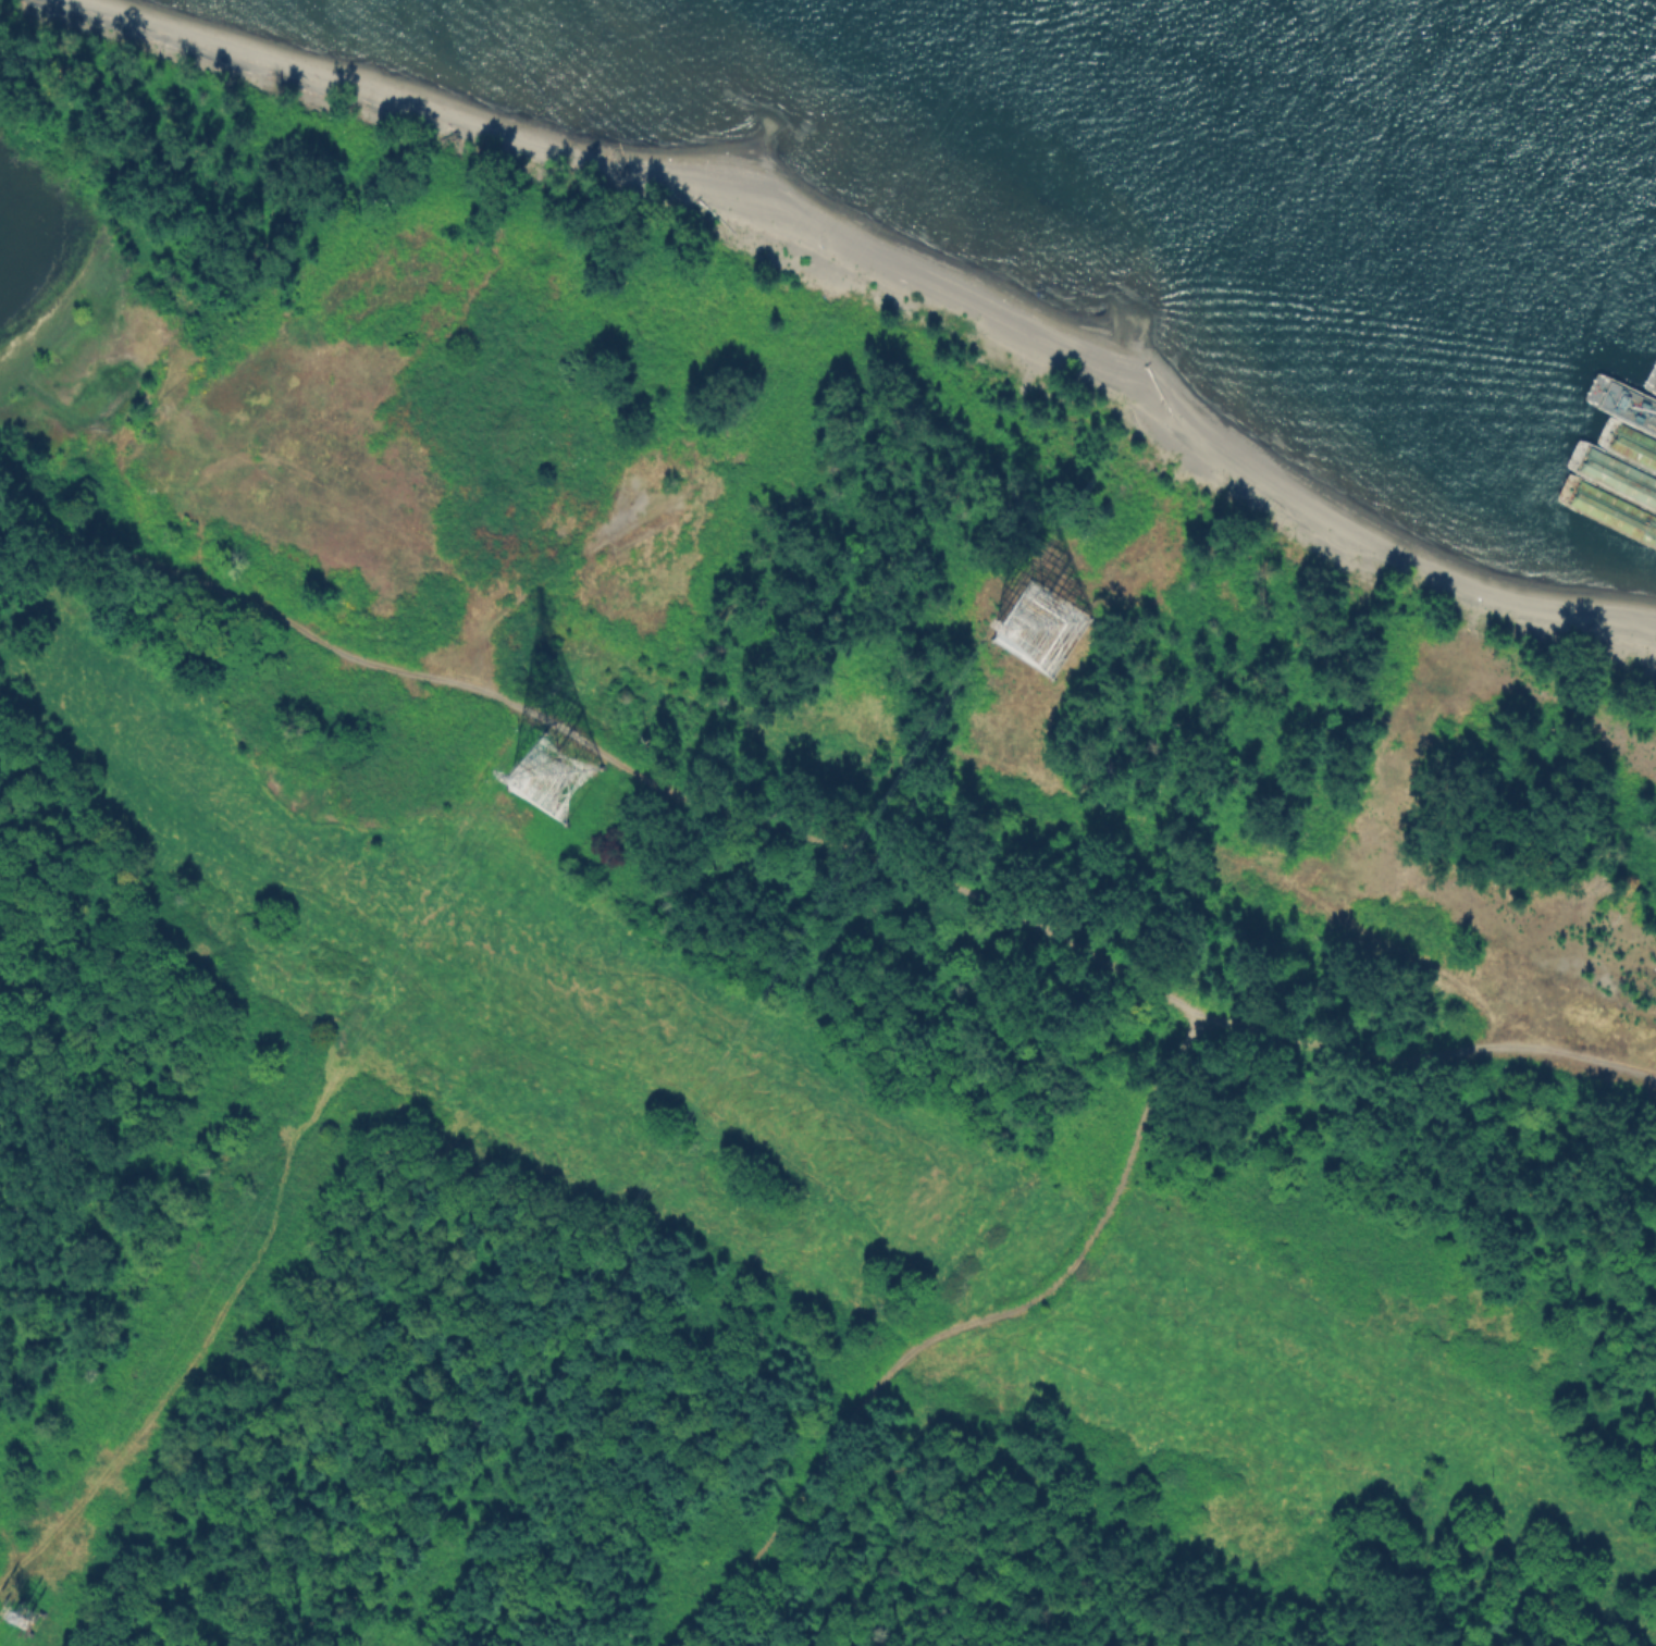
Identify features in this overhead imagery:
power tower: (1038, 633)
power tower: (549, 784)
road: (815, 845)
road: (953, 1333)
power tower: (22, 1621)

